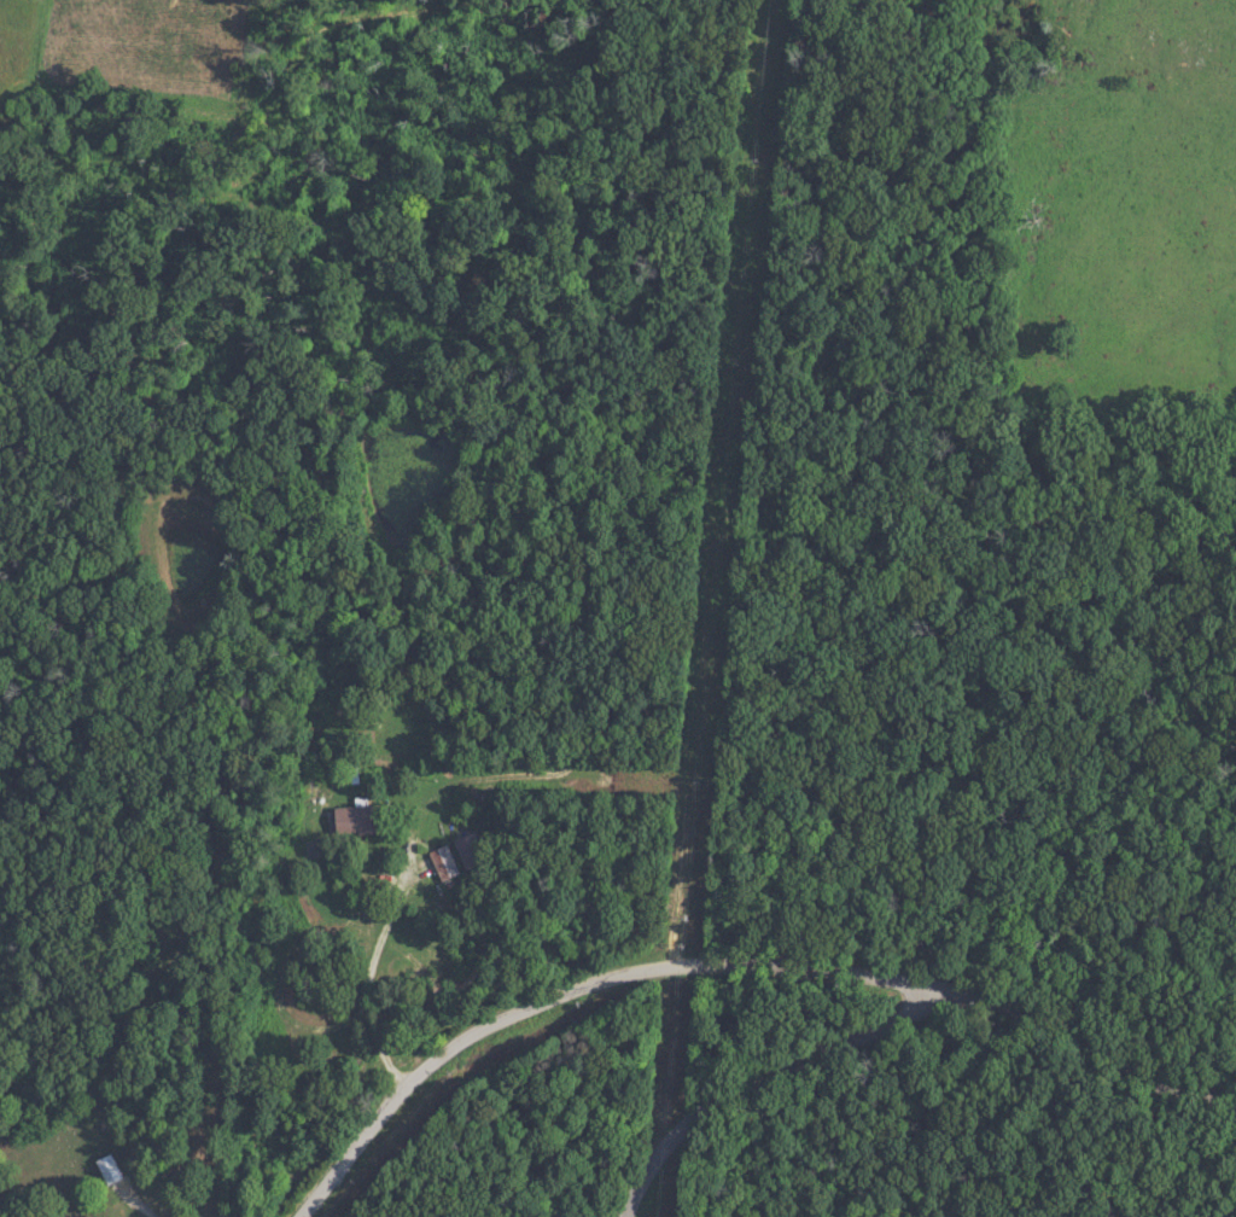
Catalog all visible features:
building: (345, 820)
building: (437, 862)
road: (740, 966)
road: (375, 1001)
road: (794, 1085)
building: (103, 1169)
road: (133, 1205)

